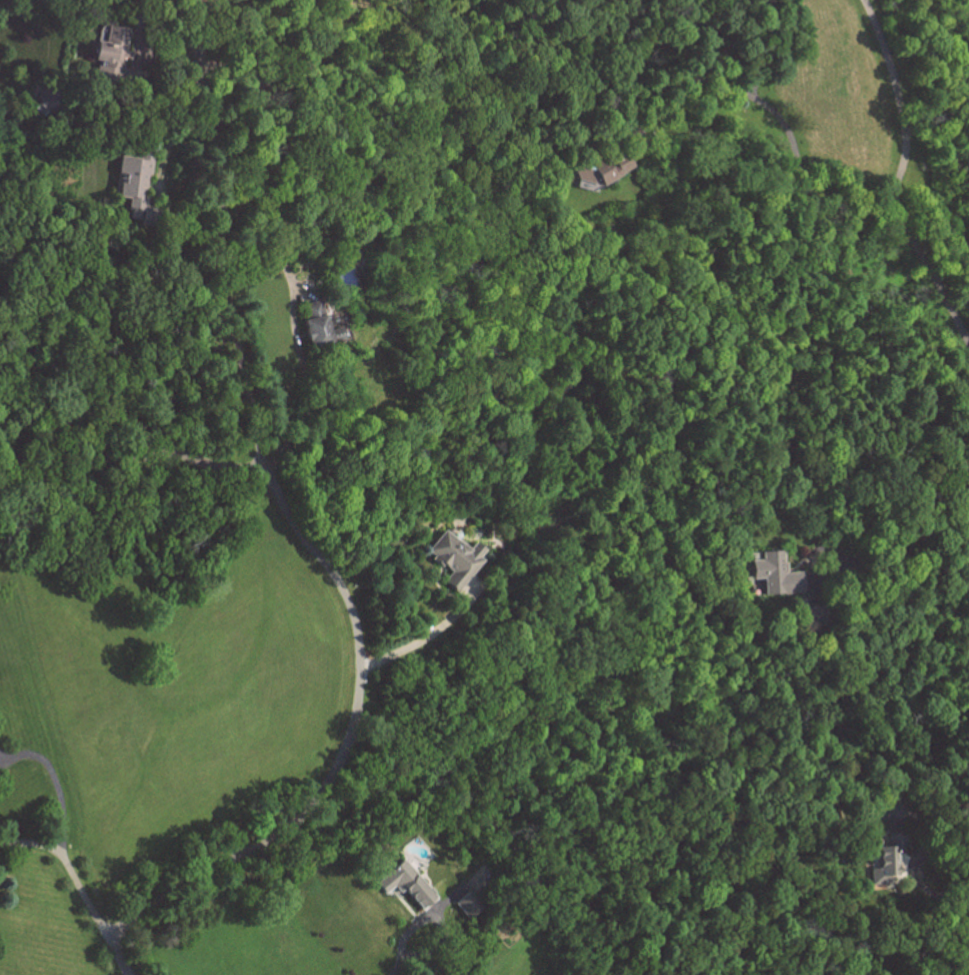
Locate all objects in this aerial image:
road: (138, 21)
building: (118, 58)
building: (49, 99)
road: (787, 133)
road: (901, 180)
building: (139, 188)
building: (320, 324)
road: (292, 325)
road: (131, 454)
road: (920, 540)
road: (316, 553)
building: (456, 557)
building: (777, 574)
building: (817, 613)
road: (418, 635)
road: (54, 785)
road: (32, 846)
road: (919, 858)
building: (889, 861)
building: (409, 884)
road: (81, 891)
building: (470, 906)
road: (960, 912)
road: (400, 937)

